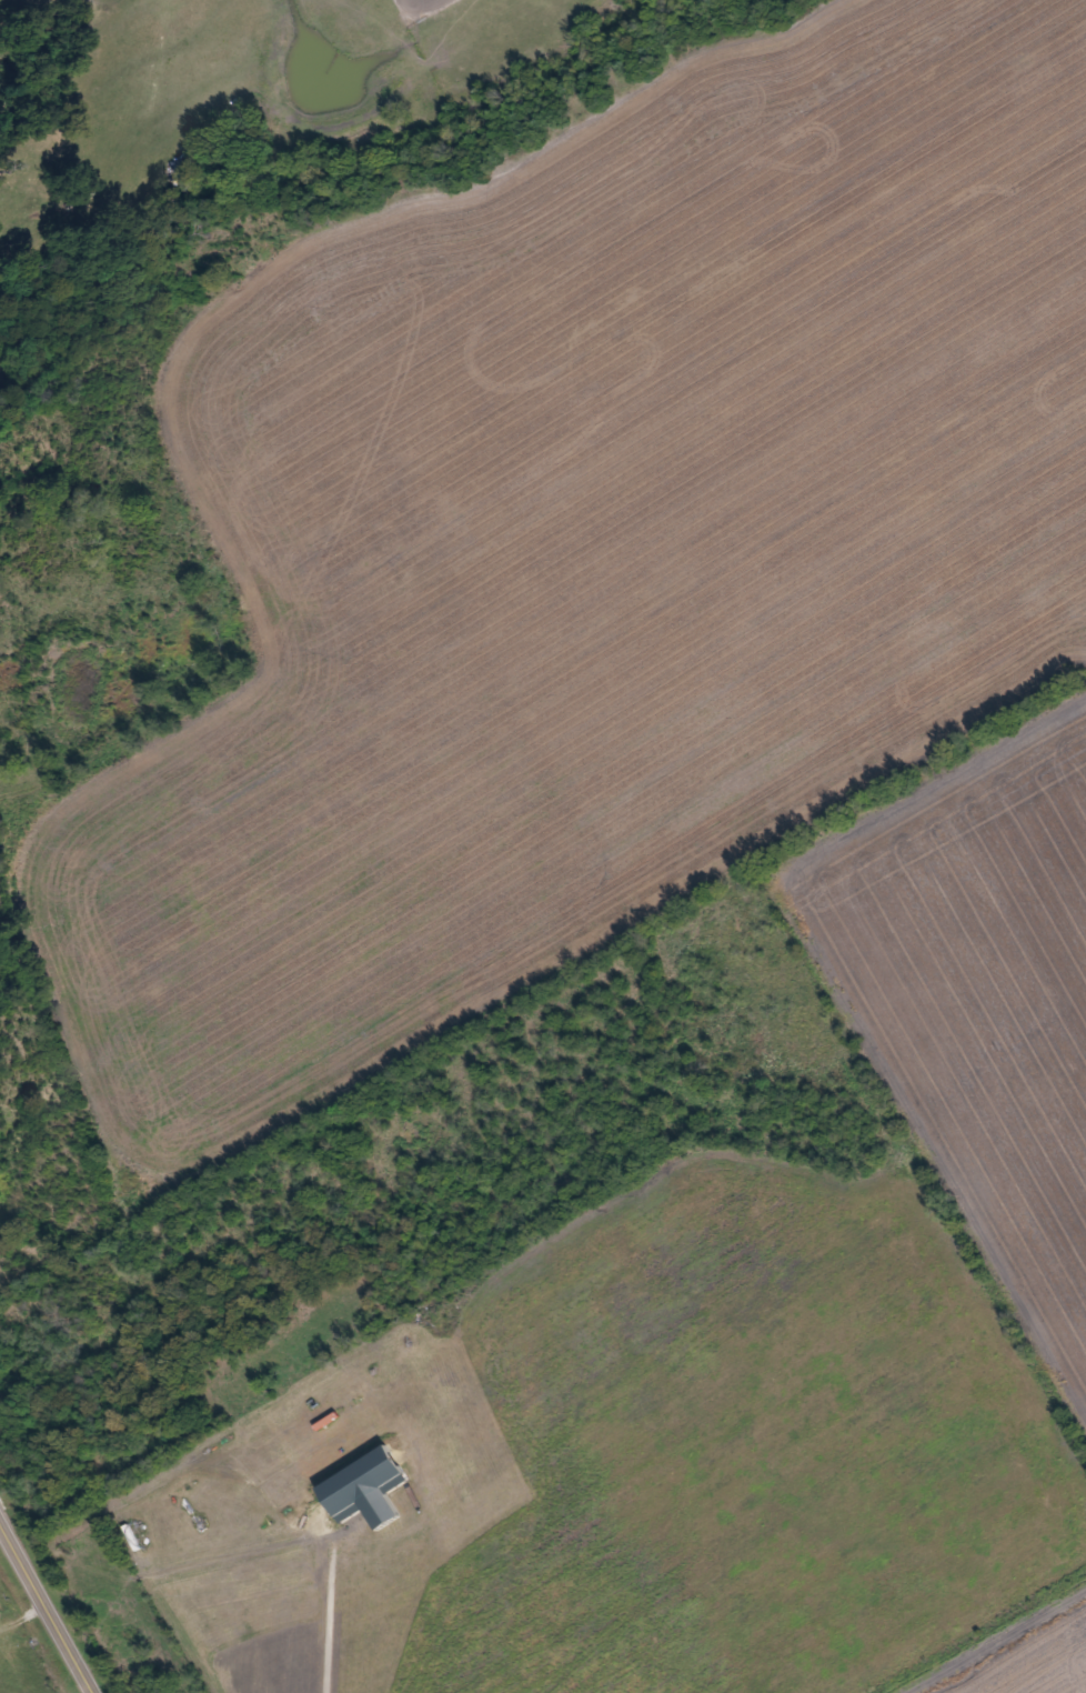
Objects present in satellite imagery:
road: (199, 1035)
road: (49, 1602)
road: (985, 1634)

